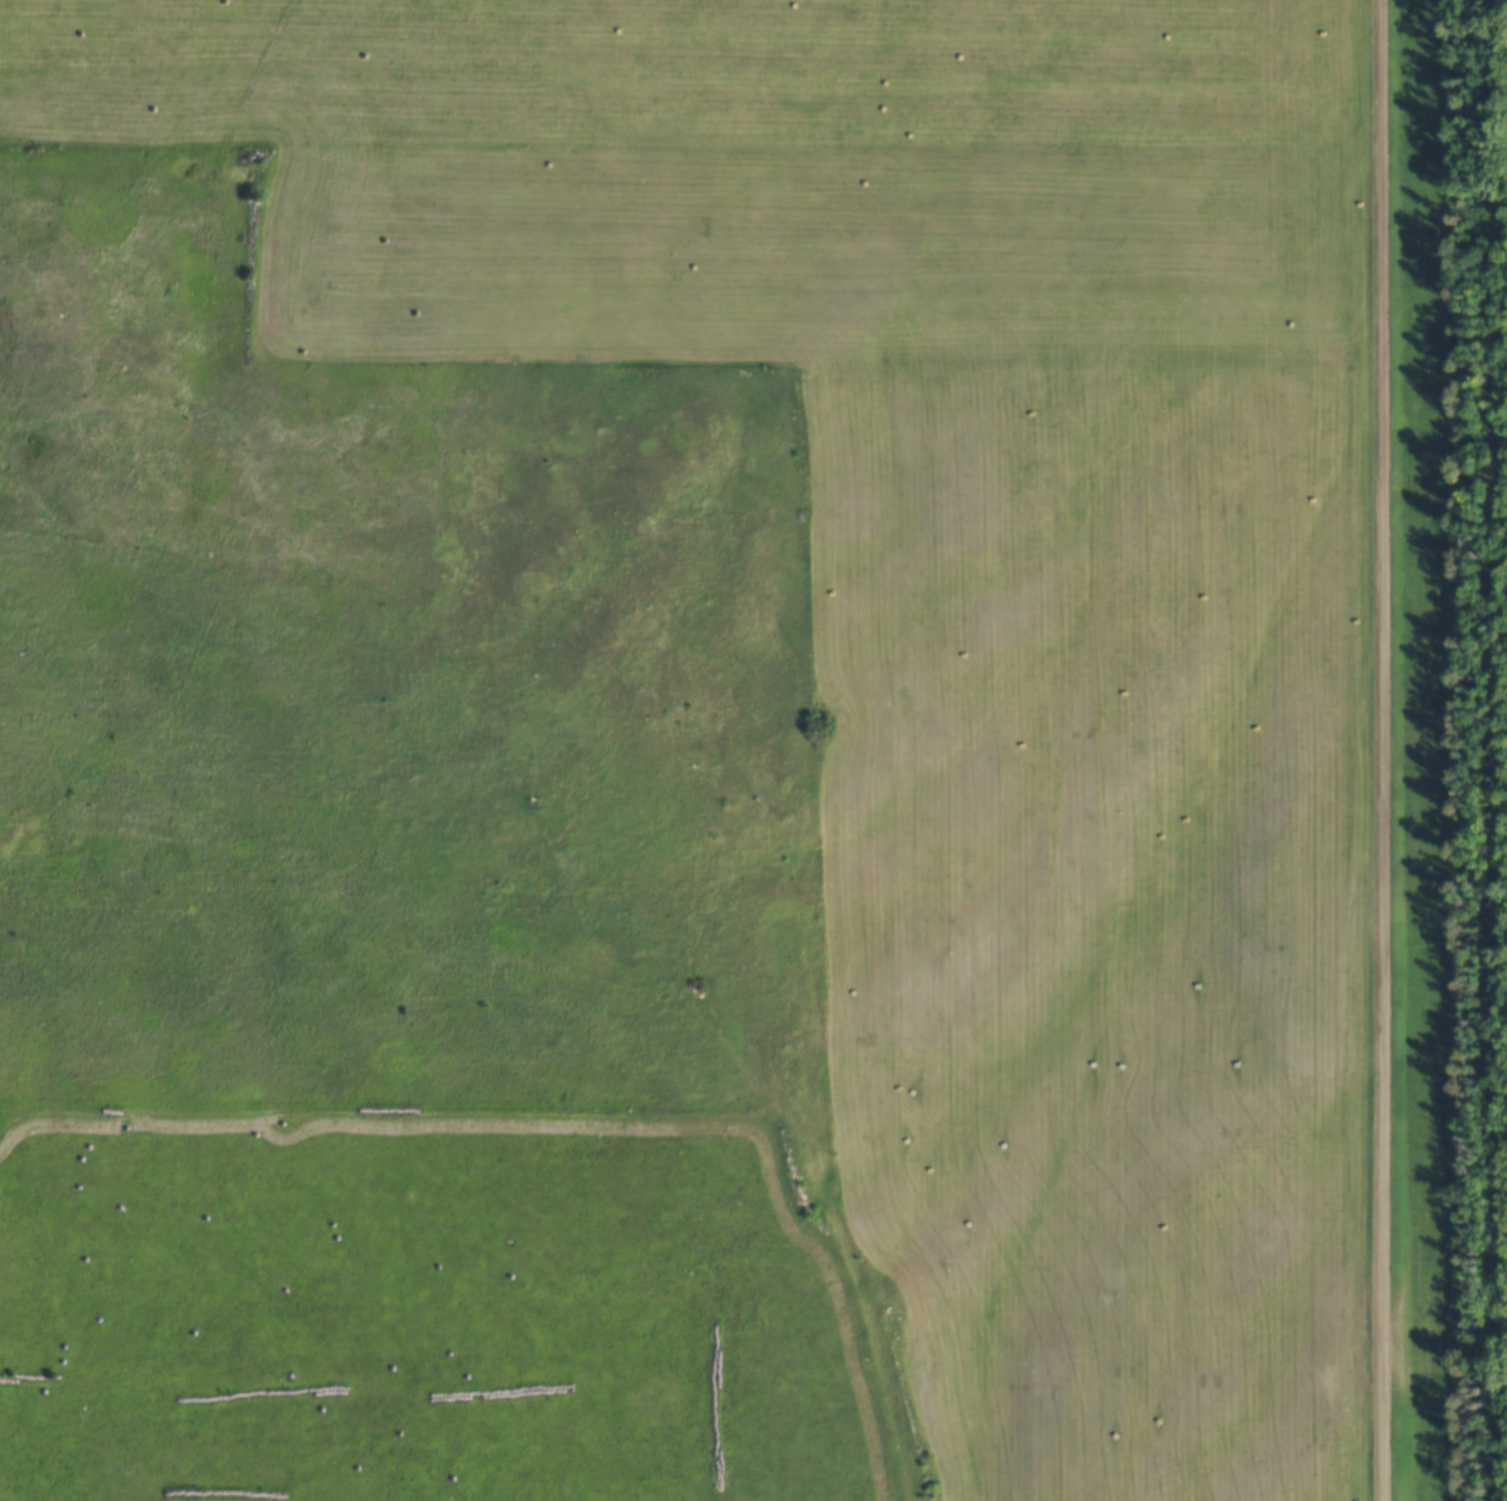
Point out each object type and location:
road: (1388, 750)

